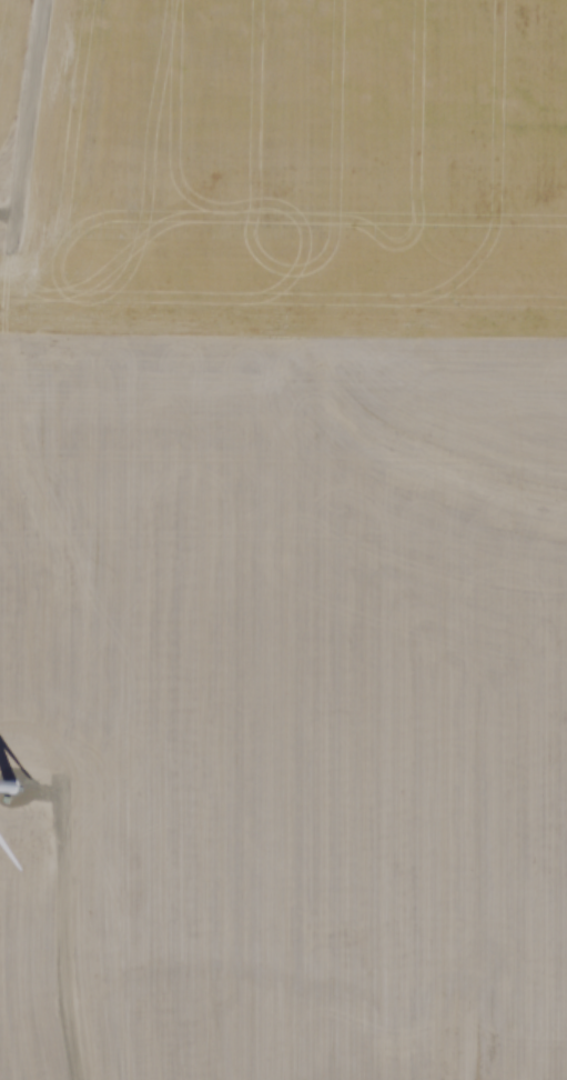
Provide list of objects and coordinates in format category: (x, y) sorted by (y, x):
road: (26, 151)
road: (64, 921)

